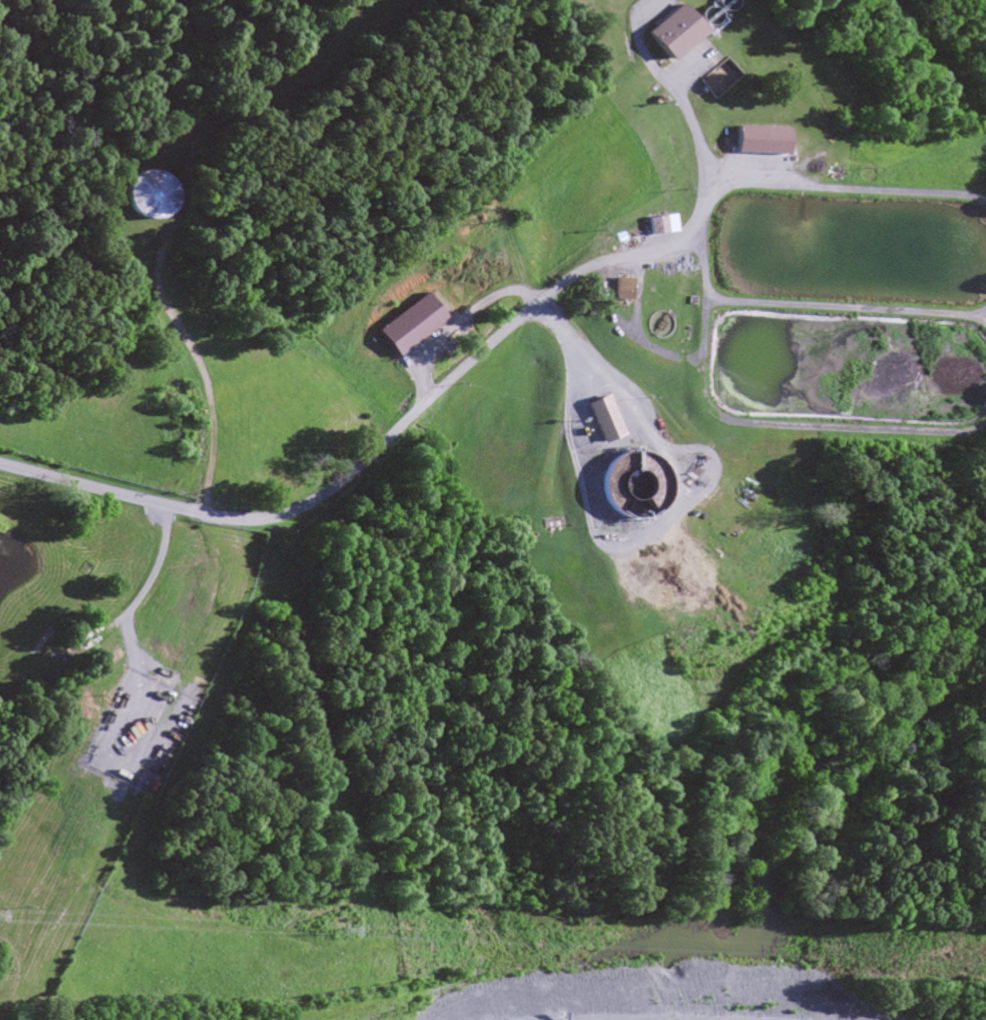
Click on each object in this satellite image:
building: (677, 29)
building: (765, 139)
building: (142, 195)
water tower: (145, 196)
road: (707, 210)
road: (170, 214)
building: (663, 223)
building: (623, 286)
building: (414, 321)
building: (606, 417)
road: (374, 450)
building: (633, 483)

